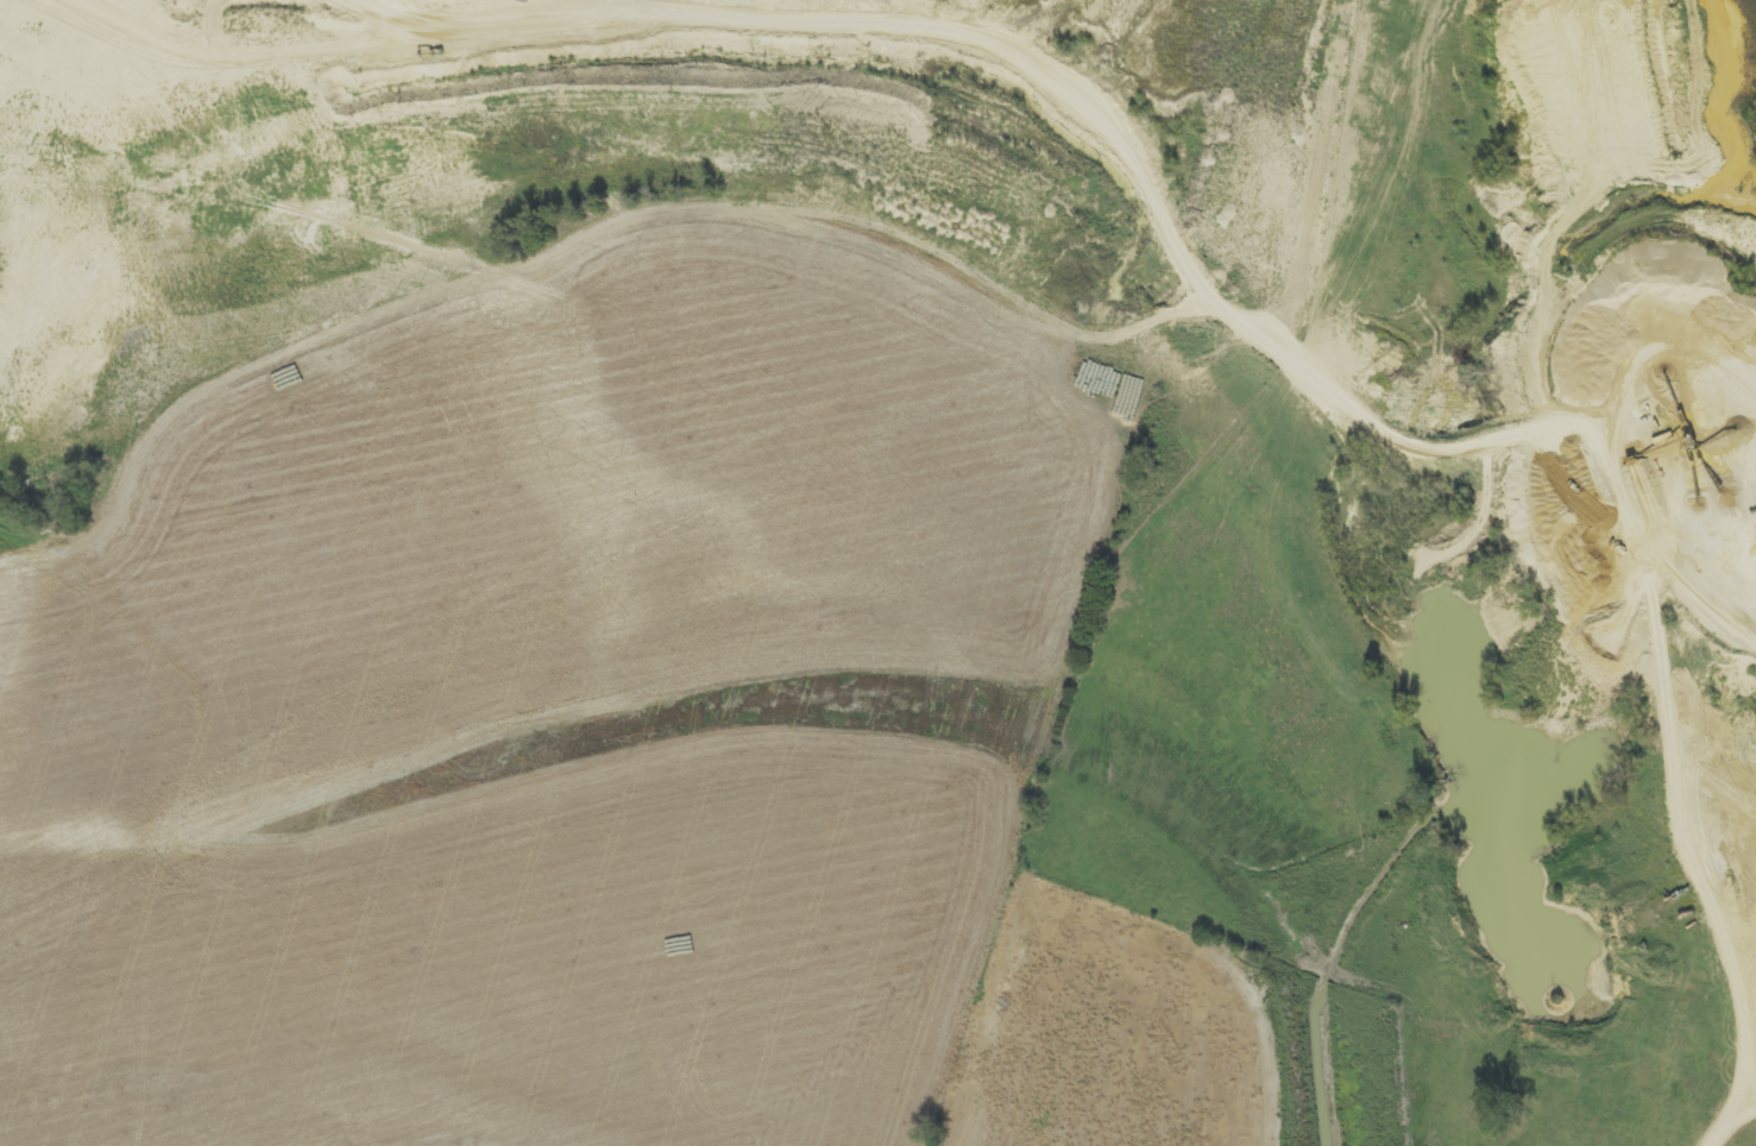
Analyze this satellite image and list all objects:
road: (1144, 188)
road: (1669, 983)

